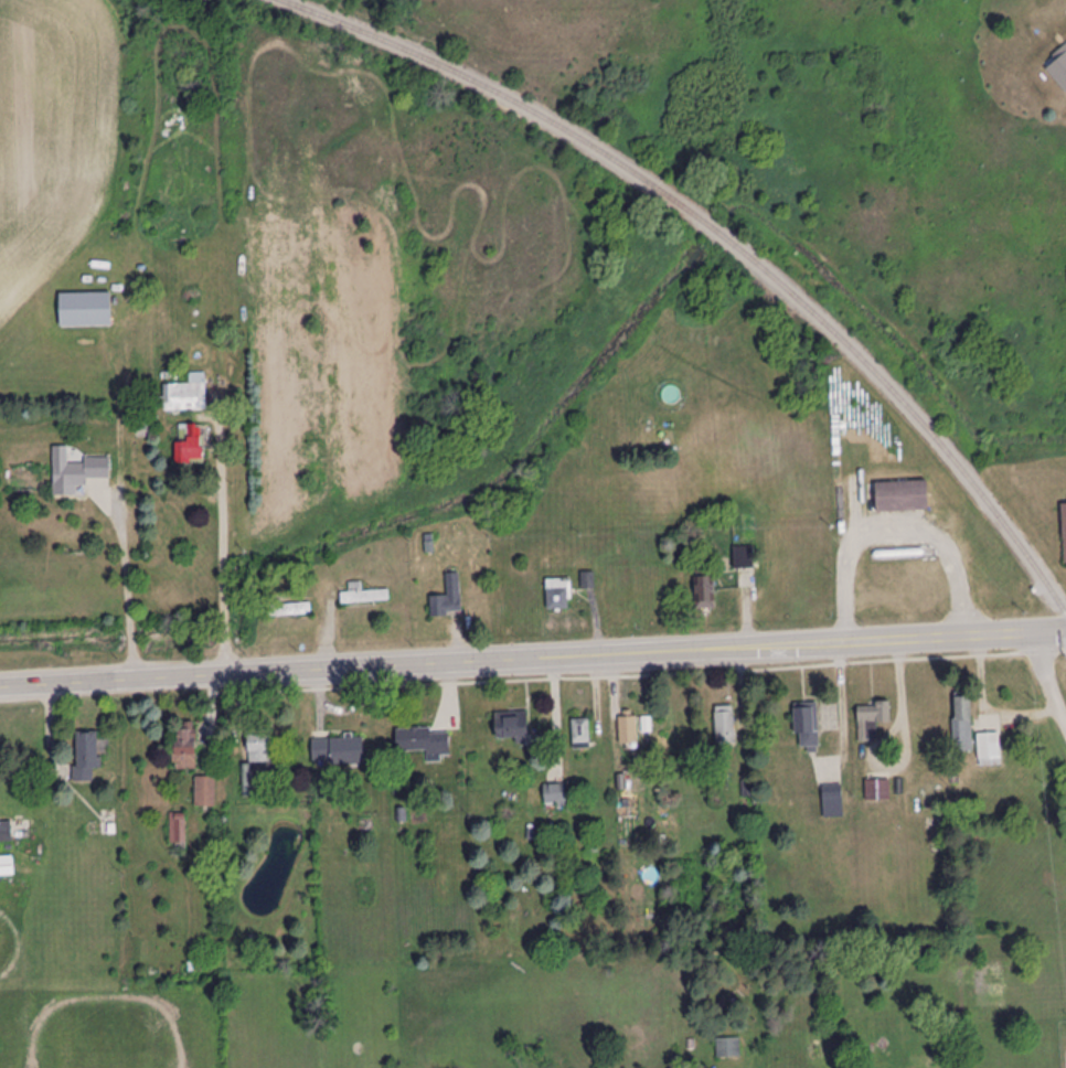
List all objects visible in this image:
railway: (725, 238)
building: (85, 310)
building: (186, 394)
building: (190, 444)
building: (75, 471)
building: (902, 496)
building: (1064, 530)
building: (705, 590)
building: (558, 595)
building: (364, 596)
building: (448, 599)
building: (289, 610)
road: (662, 654)
road: (1047, 679)
road: (129, 684)
building: (872, 719)
building: (962, 720)
building: (511, 726)
building: (725, 726)
building: (807, 726)
building: (628, 730)
building: (580, 734)
building: (425, 743)
building: (184, 746)
building: (989, 750)
building: (338, 751)
building: (87, 756)
building: (257, 761)
building: (877, 790)
building: (205, 793)
building: (832, 797)
building: (178, 831)
building: (6, 833)
building: (7, 866)
building: (728, 1048)

